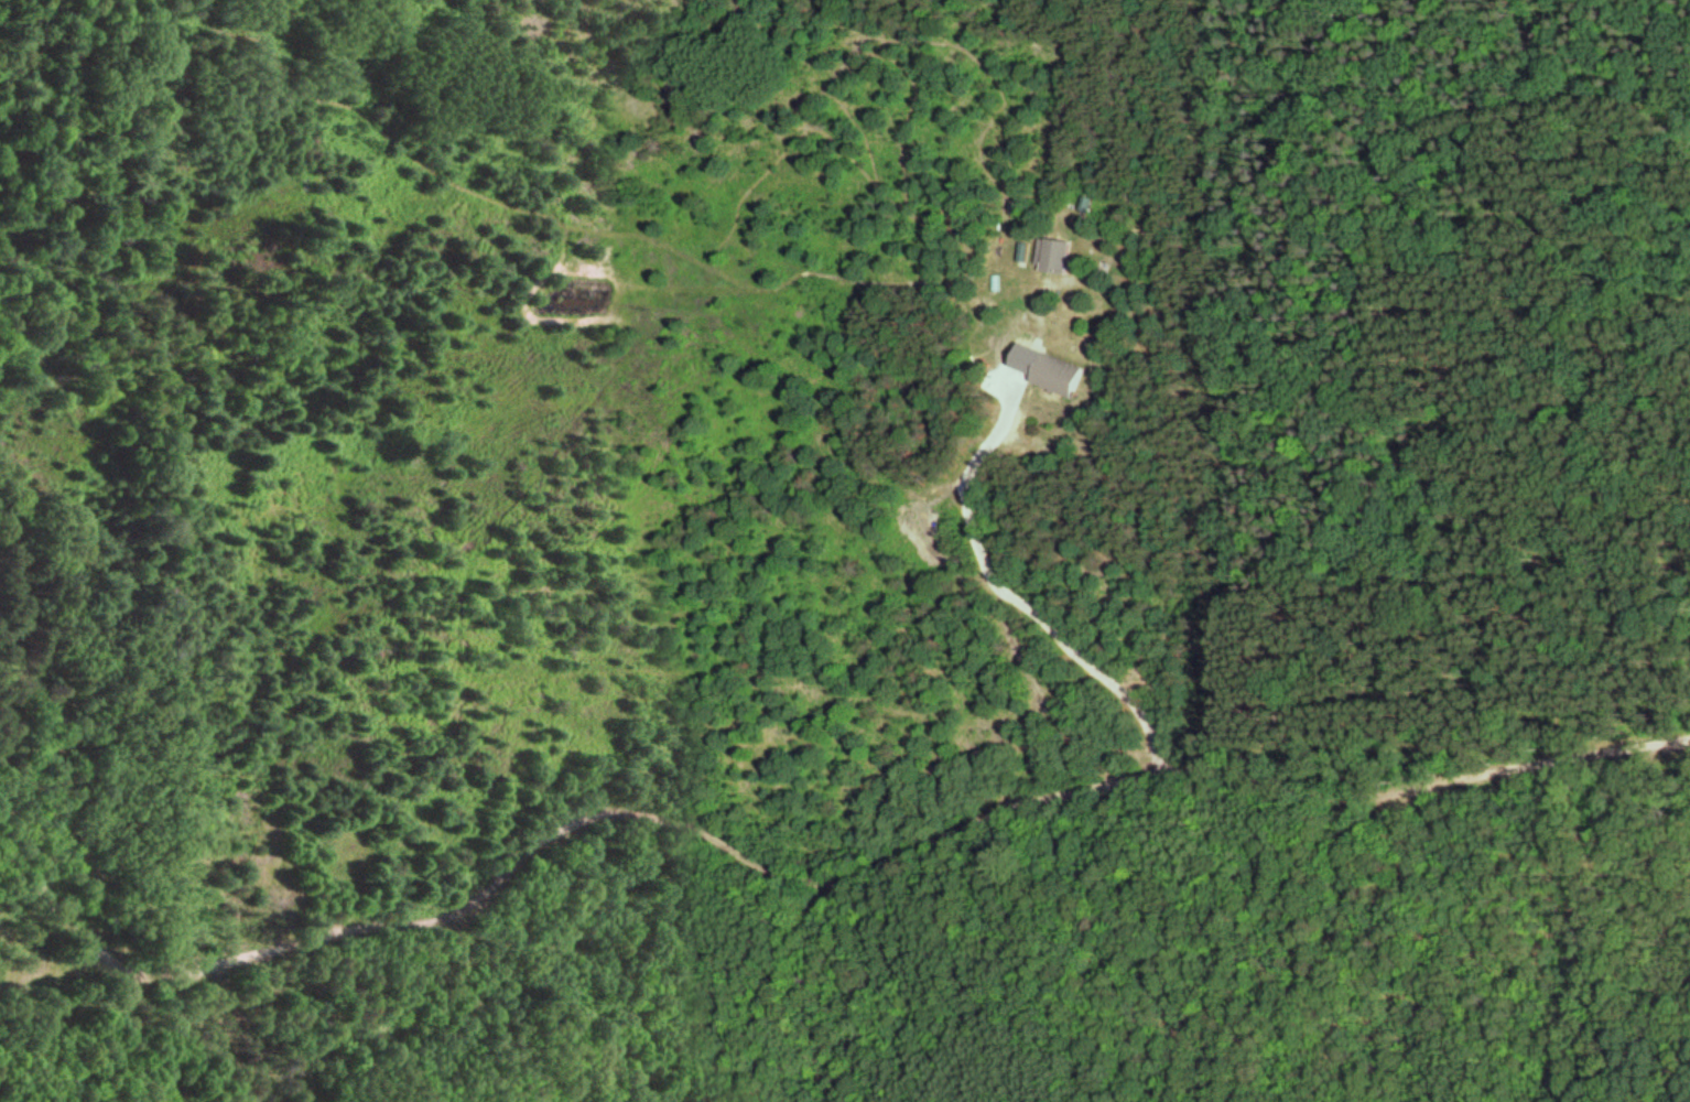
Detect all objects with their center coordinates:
building: (1048, 256)
building: (1050, 375)
road: (1564, 540)
road: (993, 598)
road: (802, 890)
road: (1520, 976)

